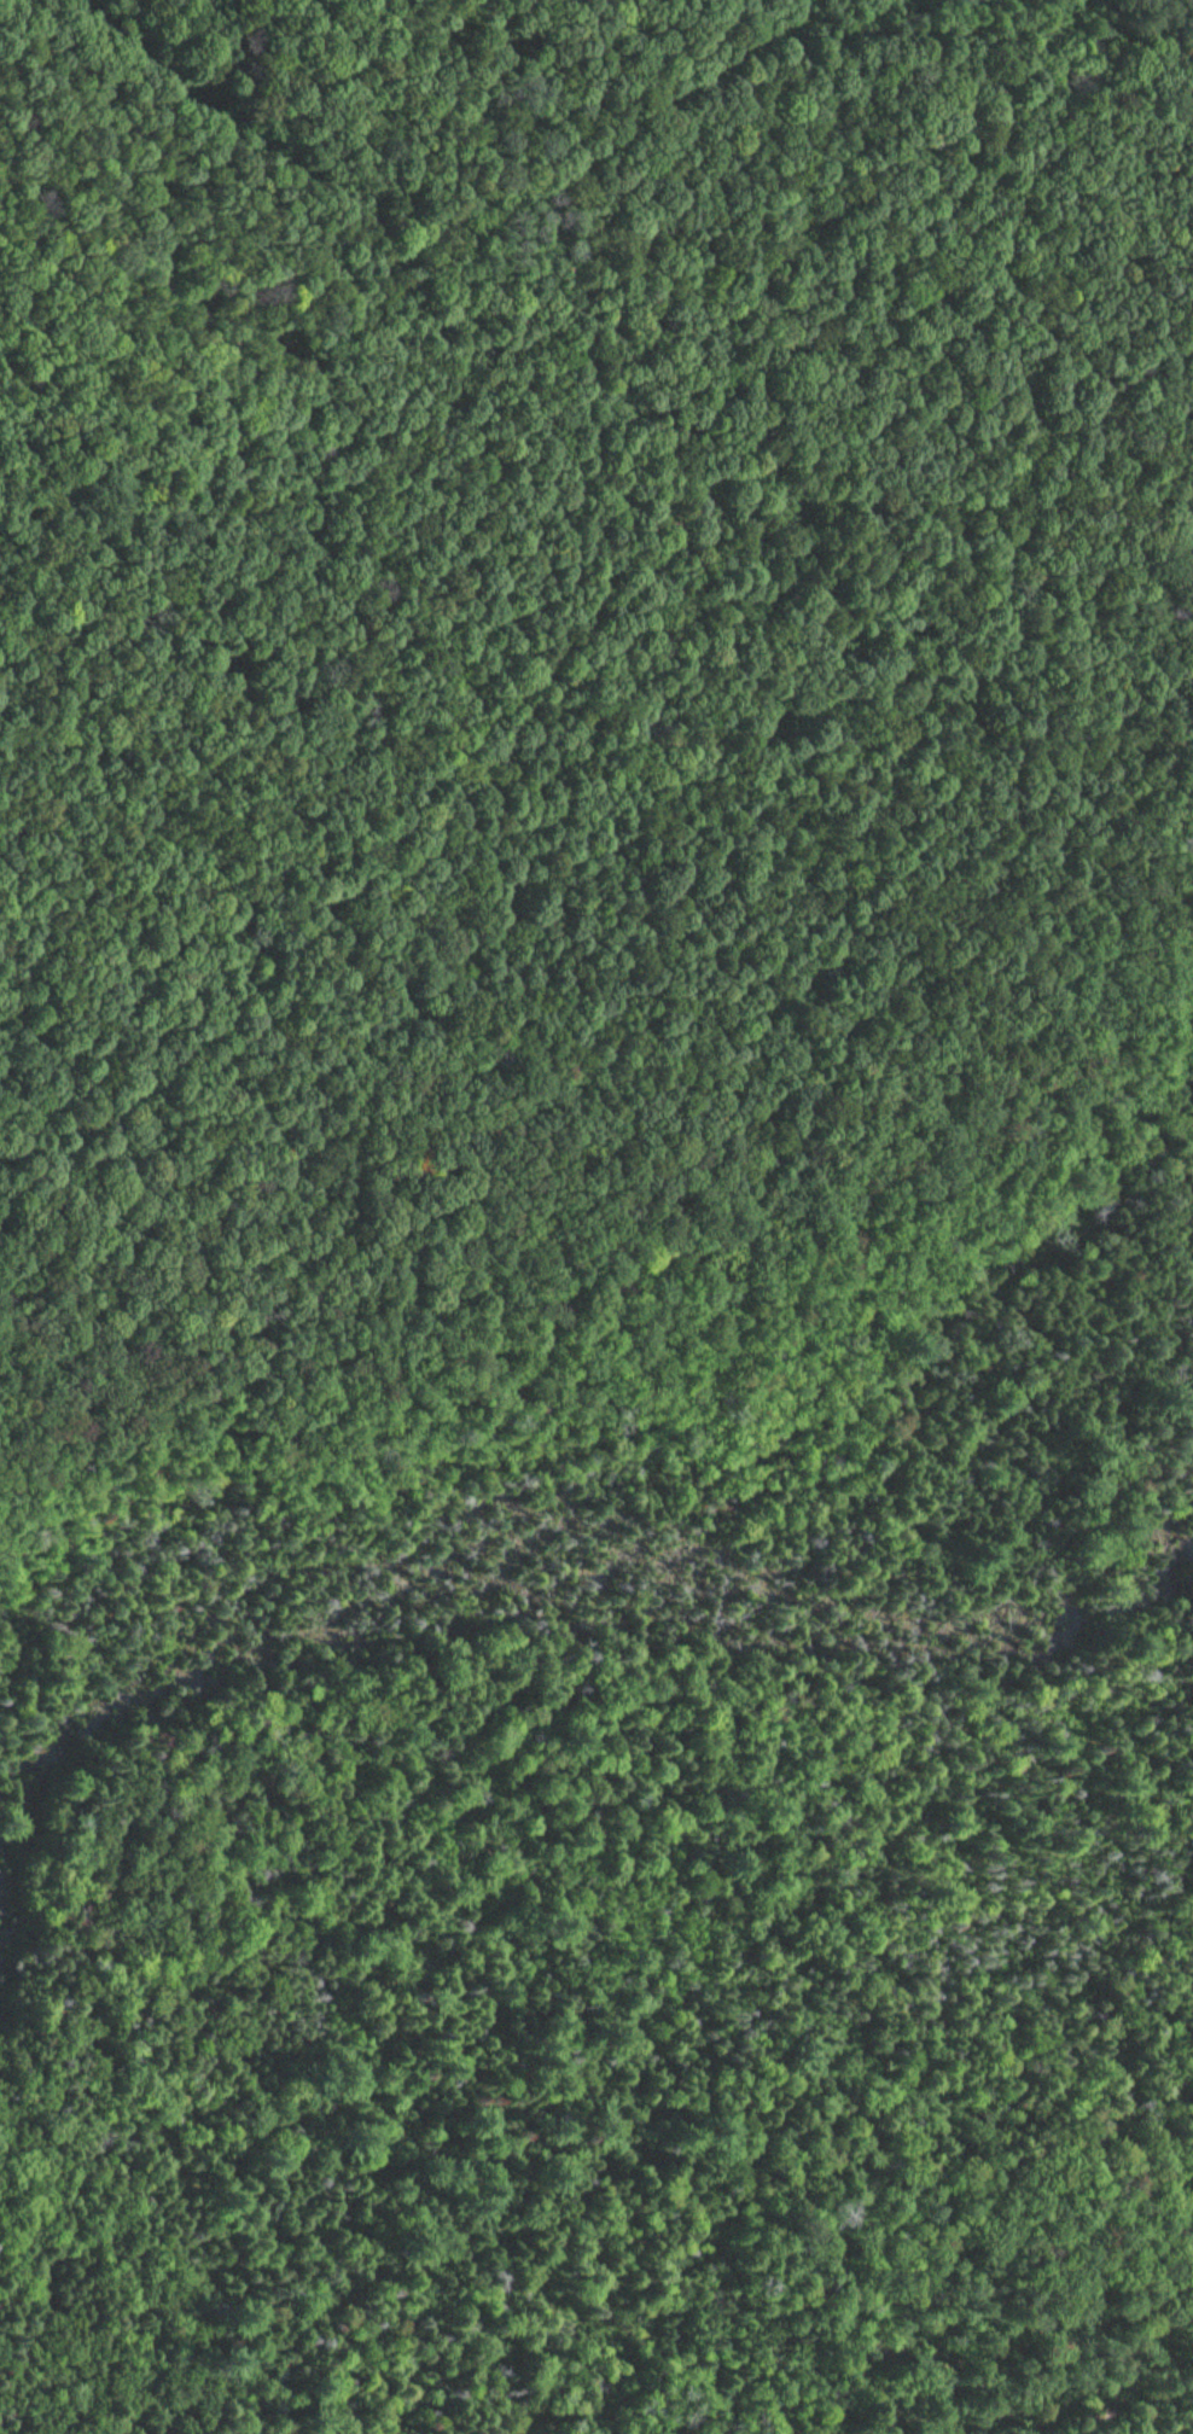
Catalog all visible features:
road: (1070, 117)
road: (512, 274)
road: (260, 554)
road: (500, 716)
river: (553, 1588)

